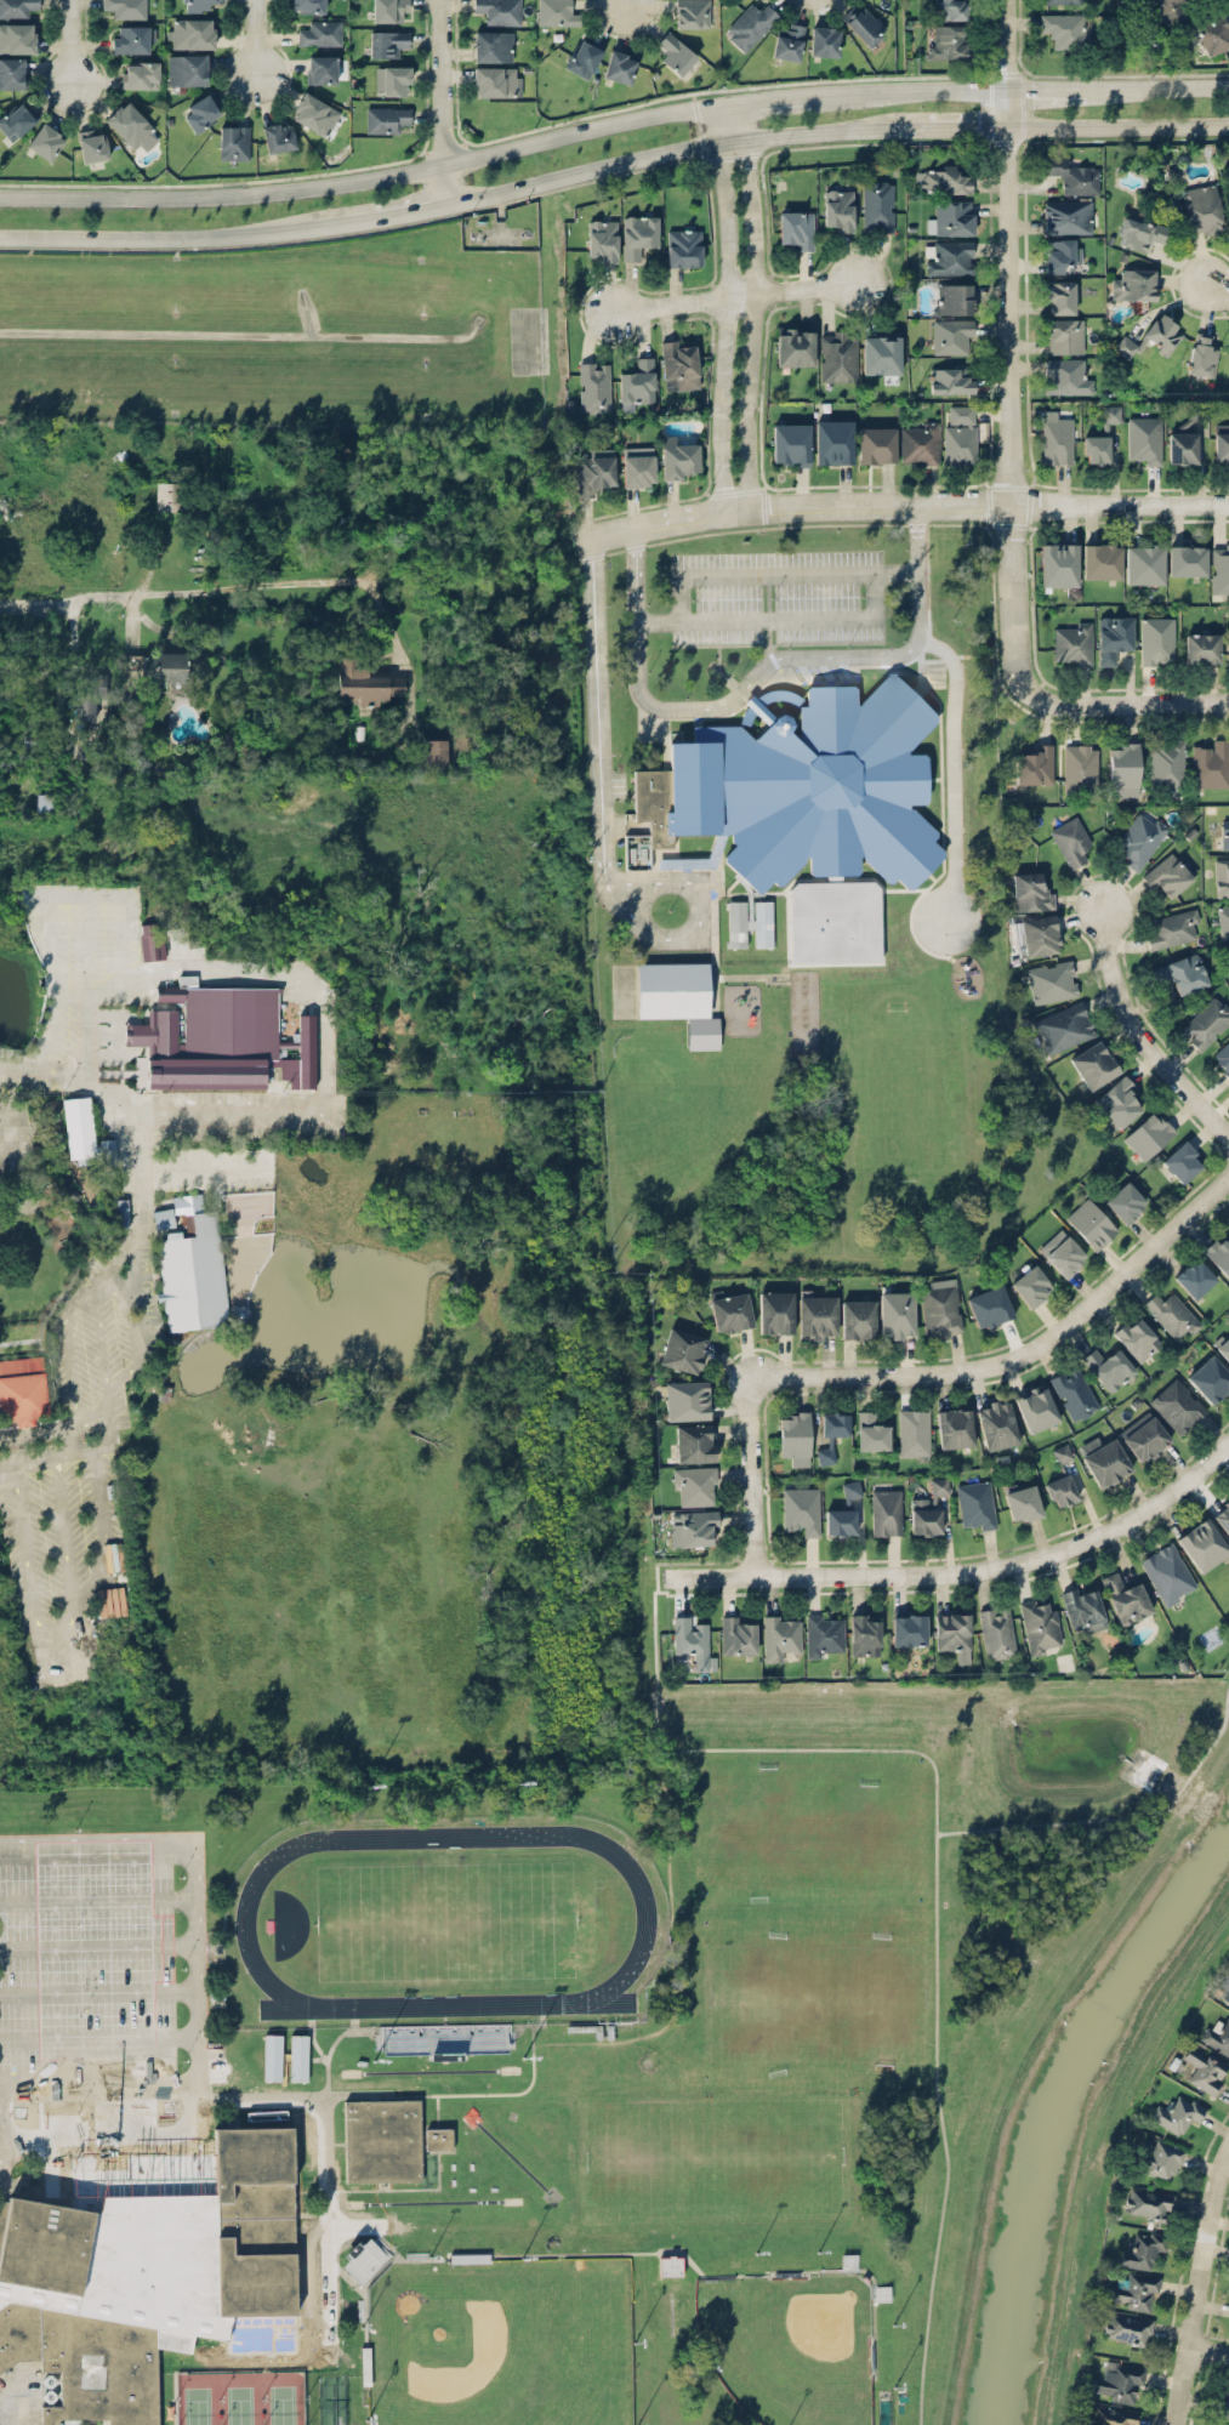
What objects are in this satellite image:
building: (1060, 1)
road: (624, 2)
building: (198, 5)
building: (307, 6)
building: (17, 7)
building: (126, 7)
building: (389, 10)
building: (951, 10)
building: (1167, 10)
building: (500, 11)
building: (557, 13)
building: (692, 13)
building: (750, 24)
building: (865, 24)
building: (1066, 29)
building: (320, 33)
building: (1213, 33)
building: (192, 34)
road: (256, 35)
building: (17, 38)
building: (131, 39)
road: (69, 40)
building: (787, 41)
building: (824, 41)
building: (948, 41)
building: (387, 42)
building: (493, 46)
building: (676, 53)
building: (584, 58)
building: (620, 67)
building: (187, 69)
building: (322, 69)
building: (11, 73)
building: (141, 74)
building: (392, 80)
building: (496, 81)
road: (1157, 85)
road: (1049, 87)
road: (912, 91)
road: (768, 99)
road: (439, 102)
building: (200, 113)
building: (315, 114)
building: (387, 119)
building: (16, 121)
building: (129, 124)
road: (728, 124)
road: (1120, 126)
road: (966, 129)
building: (279, 137)
building: (46, 141)
building: (234, 142)
building: (92, 144)
building: (1072, 175)
road: (365, 177)
building: (941, 180)
road: (462, 198)
building: (878, 206)
building: (1201, 207)
building: (838, 210)
building: (1066, 215)
building: (950, 217)
building: (796, 229)
building: (1140, 233)
building: (638, 235)
building: (603, 239)
building: (684, 246)
building: (1062, 255)
building: (949, 256)
road: (1213, 279)
building: (1133, 283)
road: (727, 296)
building: (954, 297)
building: (1058, 297)
road: (750, 323)
road: (723, 326)
road: (1011, 331)
building: (1161, 334)
building: (1063, 335)
building: (952, 336)
building: (795, 346)
building: (1125, 346)
building: (881, 353)
building: (838, 354)
building: (1202, 355)
building: (681, 362)
building: (1065, 375)
building: (951, 380)
building: (637, 385)
building: (594, 387)
building: (1196, 410)
building: (1111, 412)
building: (960, 434)
building: (1057, 437)
building: (1144, 439)
building: (833, 440)
building: (790, 443)
building: (918, 443)
building: (1222, 443)
building: (876, 444)
building: (1183, 448)
building: (1096, 449)
building: (677, 455)
building: (638, 466)
building: (596, 471)
building: (170, 496)
road: (1120, 503)
road: (791, 507)
building: (1102, 559)
building: (1187, 559)
building: (1144, 562)
building: (1059, 564)
building: (1219, 568)
road: (800, 573)
road: (311, 581)
road: (82, 594)
road: (875, 596)
road: (679, 598)
road: (769, 616)
road: (756, 621)
building: (1113, 638)
building: (1156, 639)
building: (1228, 641)
building: (1072, 642)
building: (1201, 648)
building: (158, 666)
road: (761, 672)
building: (364, 684)
building: (89, 696)
road: (1113, 702)
road: (598, 708)
building: (436, 751)
building: (1035, 763)
building: (1211, 763)
building: (1167, 764)
building: (1081, 768)
building: (1123, 769)
building: (804, 787)
building: (42, 803)
building: (1224, 832)
building: (1140, 837)
building: (1071, 839)
building: (1170, 875)
building: (1221, 875)
building: (1030, 892)
road: (694, 917)
building: (1223, 920)
building: (835, 921)
building: (749, 923)
building: (1174, 928)
building: (1039, 934)
building: (152, 941)
building: (1179, 973)
road: (307, 975)
building: (1052, 980)
building: (678, 998)
building: (227, 1020)
building: (1206, 1021)
building: (1063, 1026)
road: (1140, 1037)
building: (1223, 1058)
building: (1093, 1063)
building: (1116, 1103)
building: (76, 1123)
building: (1148, 1134)
building: (1182, 1161)
road: (146, 1197)
building: (1125, 1201)
building: (119, 1212)
building: (1091, 1223)
building: (1219, 1252)
building: (1065, 1256)
building: (190, 1265)
building: (1194, 1276)
building: (1031, 1283)
building: (990, 1307)
building: (940, 1310)
building: (730, 1311)
building: (775, 1311)
building: (897, 1314)
building: (1172, 1314)
building: (815, 1316)
building: (858, 1319)
building: (1137, 1337)
building: (1224, 1347)
building: (682, 1349)
building: (1109, 1366)
road: (922, 1373)
building: (1210, 1377)
building: (23, 1389)
building: (1074, 1391)
building: (687, 1400)
building: (1177, 1405)
building: (1036, 1406)
building: (833, 1423)
building: (996, 1423)
building: (954, 1428)
building: (871, 1430)
building: (914, 1431)
building: (795, 1435)
road: (72, 1436)
building: (1145, 1438)
building: (695, 1442)
building: (1062, 1452)
building: (825, 1453)
building: (1105, 1459)
building: (694, 1485)
building: (852, 1488)
building: (1059, 1490)
building: (1022, 1502)
building: (975, 1504)
building: (801, 1508)
building: (886, 1512)
building: (923, 1515)
building: (1223, 1515)
building: (840, 1521)
building: (699, 1527)
building: (1202, 1543)
road: (969, 1570)
building: (1168, 1573)
building: (1126, 1596)
building: (1083, 1609)
building: (1040, 1626)
building: (907, 1629)
building: (996, 1632)
building: (952, 1633)
building: (824, 1634)
building: (863, 1634)
building: (738, 1635)
building: (780, 1635)
building: (690, 1638)
road: (656, 1661)
road: (1132, 1829)
road: (192, 1869)
road: (96, 1902)
park: (446, 1919)
track: (647, 1919)
stadium: (439, 1935)
road: (937, 1954)
parking lot: (102, 1958)
road: (672, 1958)
road: (97, 1991)
building: (1224, 1991)
building: (1216, 2034)
road: (97, 2036)
building: (1205, 2067)
road: (97, 2084)
road: (493, 2091)
road: (286, 2094)
river: (1062, 2108)
building: (1178, 2112)
building: (439, 2139)
road: (326, 2140)
building: (383, 2140)
road: (112, 2141)
park: (713, 2156)
building: (1161, 2159)
building: (1148, 2202)
building: (1143, 2248)
building: (364, 2260)
building: (668, 2264)
building: (146, 2277)
building: (882, 2292)
building: (1134, 2292)
road: (1204, 2294)
building: (315, 2300)
building: (1127, 2328)
park: (500, 2343)
park: (791, 2345)
road: (1212, 2347)
building: (297, 2352)
building: (211, 2356)
building: (365, 2364)
building: (1119, 2381)
building: (1222, 2402)
building: (1110, 2415)

